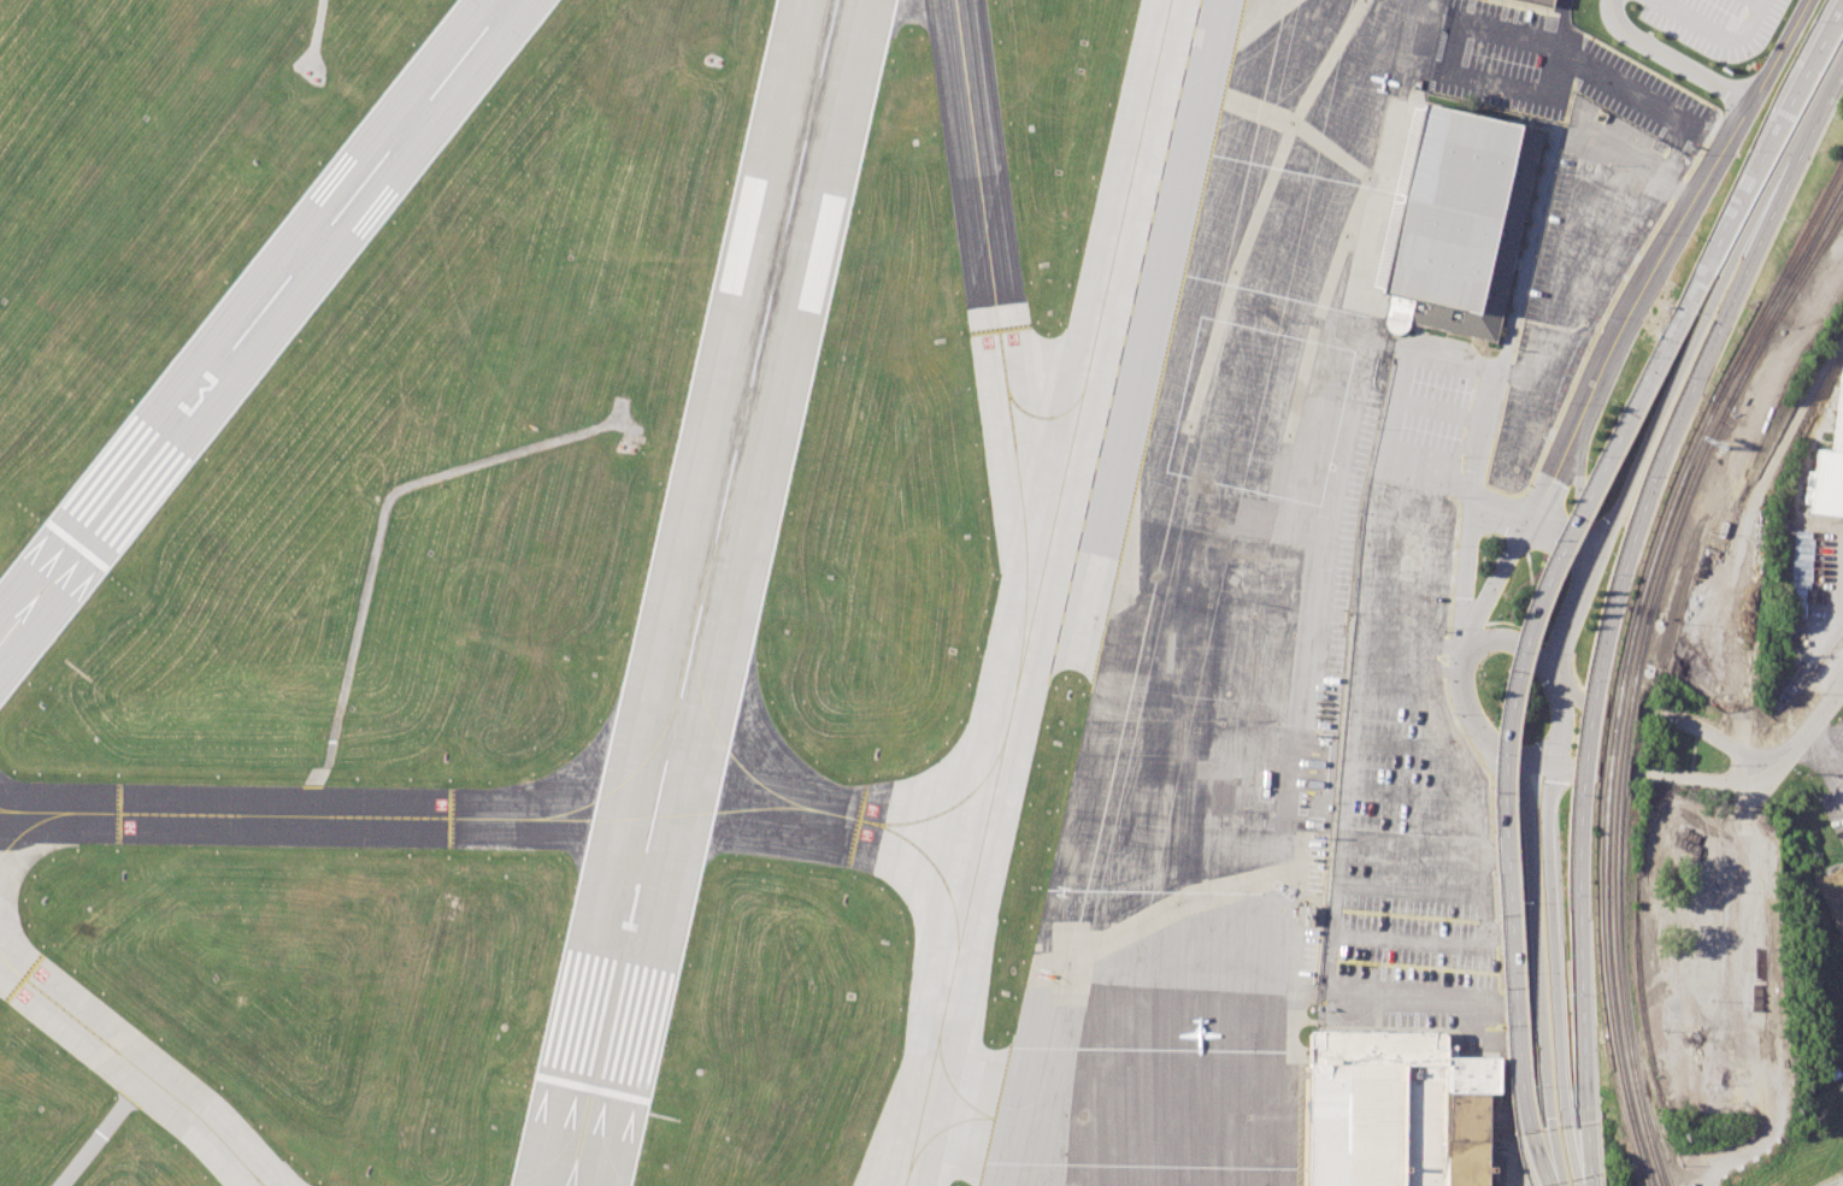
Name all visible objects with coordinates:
road: (1757, 1)
airport hangar: (1541, 2)
building: (1541, 2)
parking lot: (1714, 23)
road: (316, 29)
road: (1717, 34)
road: (1777, 51)
road: (1670, 57)
road: (1570, 102)
road: (1725, 104)
road: (1561, 136)
road: (1701, 146)
road: (1770, 147)
road: (1625, 172)
road: (1677, 188)
airport hangar: (1458, 223)
building: (1458, 223)
airport taxiway: (987, 243)
road: (1535, 254)
road: (1655, 273)
railway: (1780, 283)
railway: (1780, 294)
railway: (1785, 295)
road: (1586, 302)
railway: (1785, 309)
road: (1512, 318)
airport runway: (253, 320)
road: (1707, 349)
road: (1508, 372)
road: (1678, 376)
road: (1561, 409)
road: (1439, 412)
building: (1830, 465)
road: (1414, 466)
road: (1460, 483)
road: (1548, 486)
road: (1467, 491)
road: (1579, 502)
road: (1409, 503)
road: (1497, 512)
road: (1526, 521)
road: (1560, 535)
road: (1742, 536)
airport taxiway: (1024, 539)
road: (1402, 551)
road: (1467, 562)
road: (1450, 567)
airport: (770, 580)
road: (1436, 586)
road: (1494, 588)
airport runway: (702, 592)
airport taxiway: (1036, 596)
road: (1523, 609)
road: (1570, 613)
airport apron: (1218, 616)
road: (1529, 631)
road: (1511, 638)
road: (1413, 641)
road: (1541, 641)
road: (1443, 645)
road: (1556, 647)
road: (1442, 657)
road: (1409, 669)
road: (1442, 671)
road: (1579, 685)
road: (1389, 695)
road: (1583, 700)
road: (1562, 706)
road: (1350, 713)
road: (1472, 715)
road: (1691, 715)
road: (1509, 718)
road: (1590, 719)
road: (1809, 724)
road: (1704, 728)
road: (1829, 734)
parking lot: (1411, 739)
road: (1403, 744)
road: (1456, 748)
road: (1554, 750)
road: (1476, 756)
road: (1825, 761)
road: (1532, 762)
road: (1573, 768)
road: (1702, 774)
railway: (1608, 787)
railway: (1617, 789)
road: (1412, 795)
parking lot: (1832, 814)
airport taxiway: (493, 816)
road: (1479, 826)
road: (1411, 843)
road: (1492, 854)
road: (1495, 858)
road: (1480, 872)
road: (1409, 887)
road: (1533, 887)
road: (1549, 887)
airport taxiway: (970, 896)
road: (1495, 896)
building: (1832, 896)
road: (1482, 920)
road: (1496, 932)
road: (1496, 933)
road: (1406, 938)
road: (1578, 945)
road: (1513, 967)
road: (1498, 968)
road: (1500, 996)
road: (1732, 1003)
airport taxiway: (136, 1066)
road: (1548, 1102)
road: (1565, 1103)
building: (1396, 1110)
airport taxiway: (970, 1113)
road: (1588, 1145)
road: (1832, 1180)

